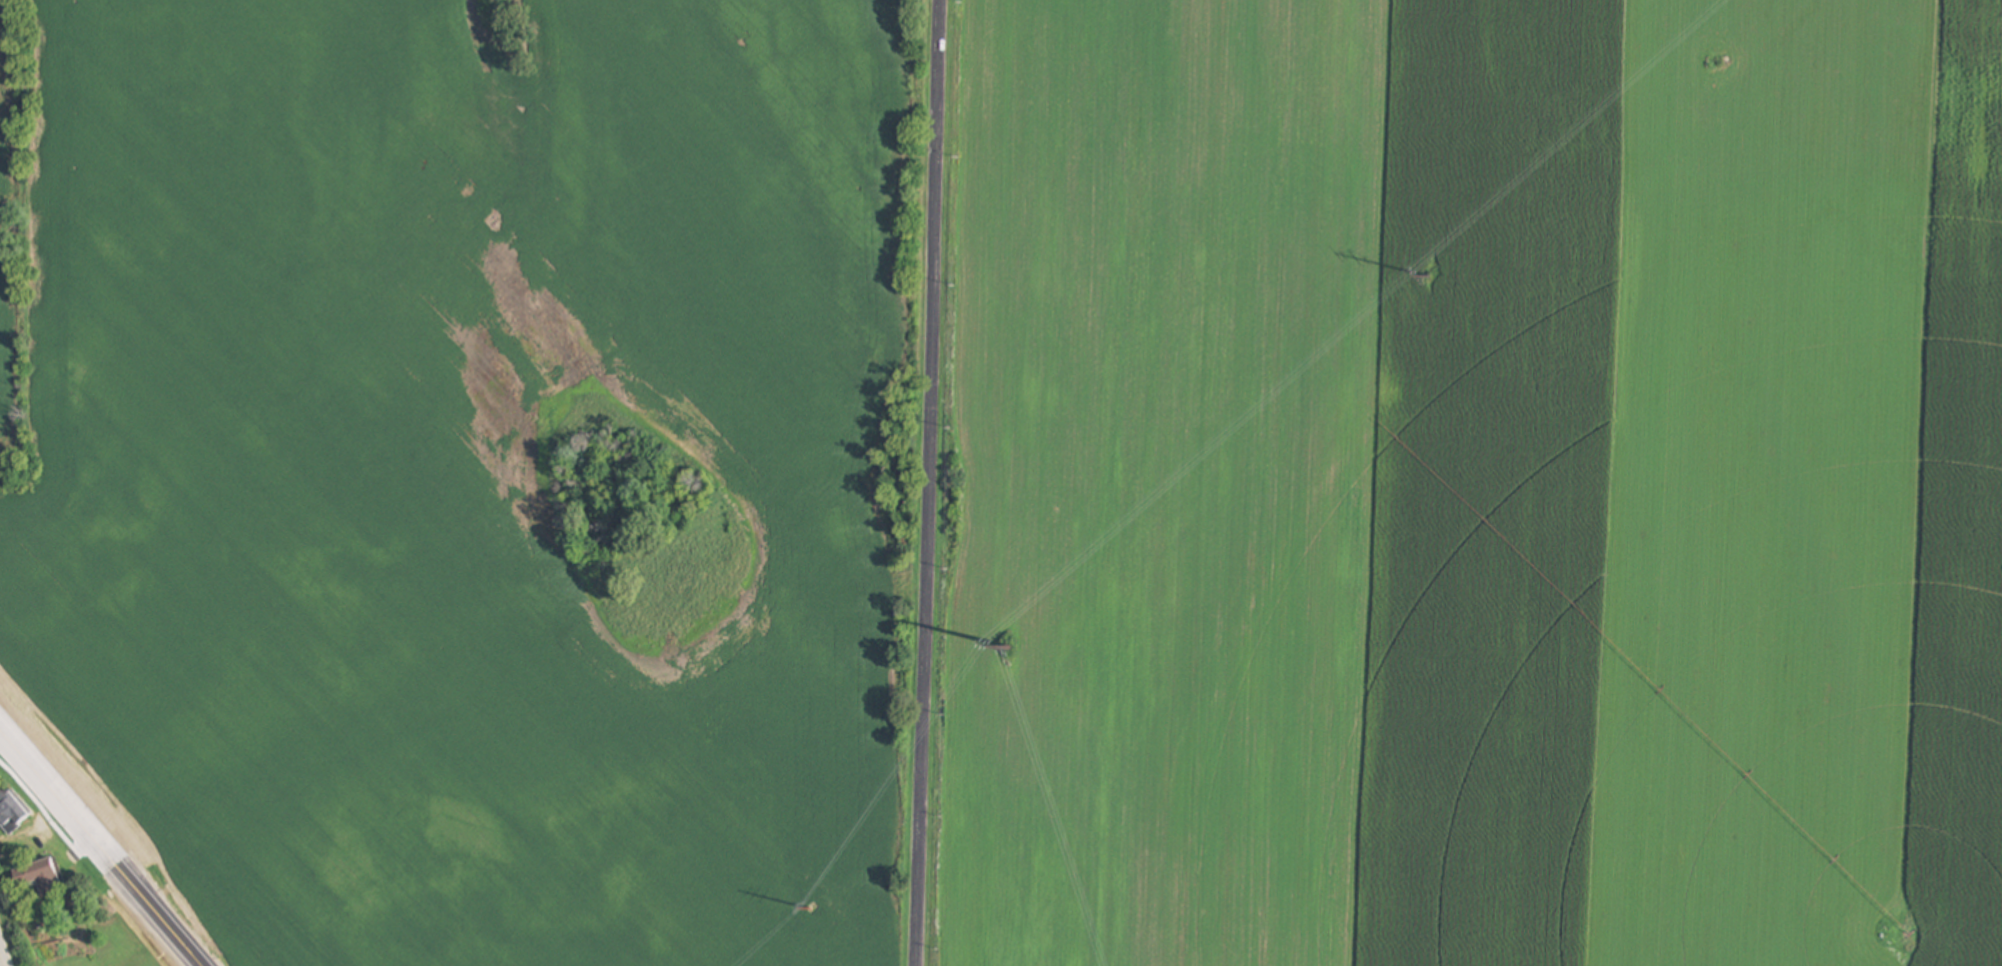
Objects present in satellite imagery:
power tower: (1707, 116)
power tower: (1430, 278)
power tower: (1394, 392)
crop: (473, 468)
road: (929, 483)
power tower: (1010, 650)
power tower: (1071, 679)
building: (9, 811)
road: (101, 848)
building: (38, 877)
power tower: (794, 924)
road: (2, 959)

